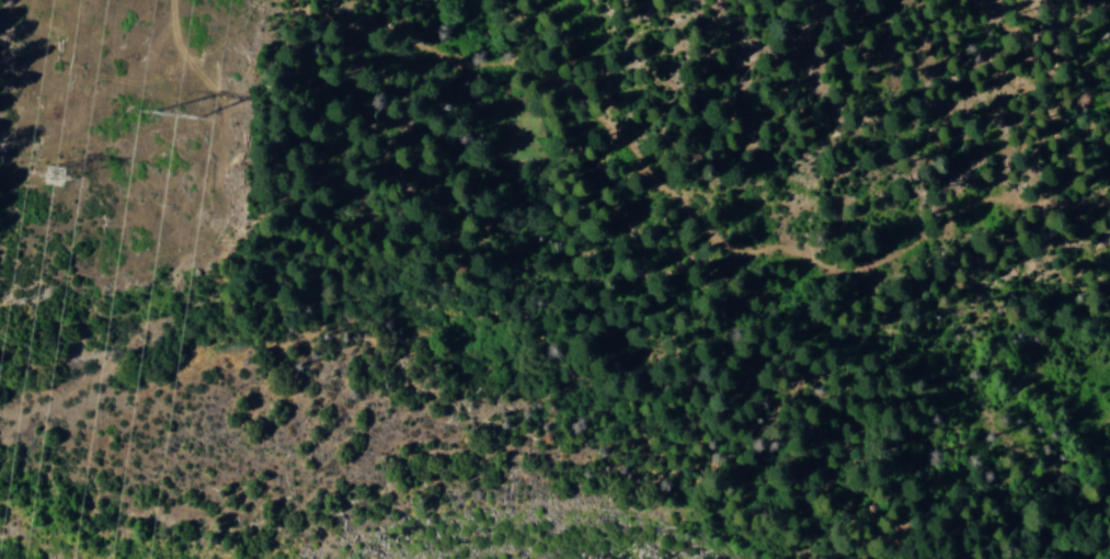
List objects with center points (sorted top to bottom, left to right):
power tower: (227, 107)
power tower: (104, 168)

